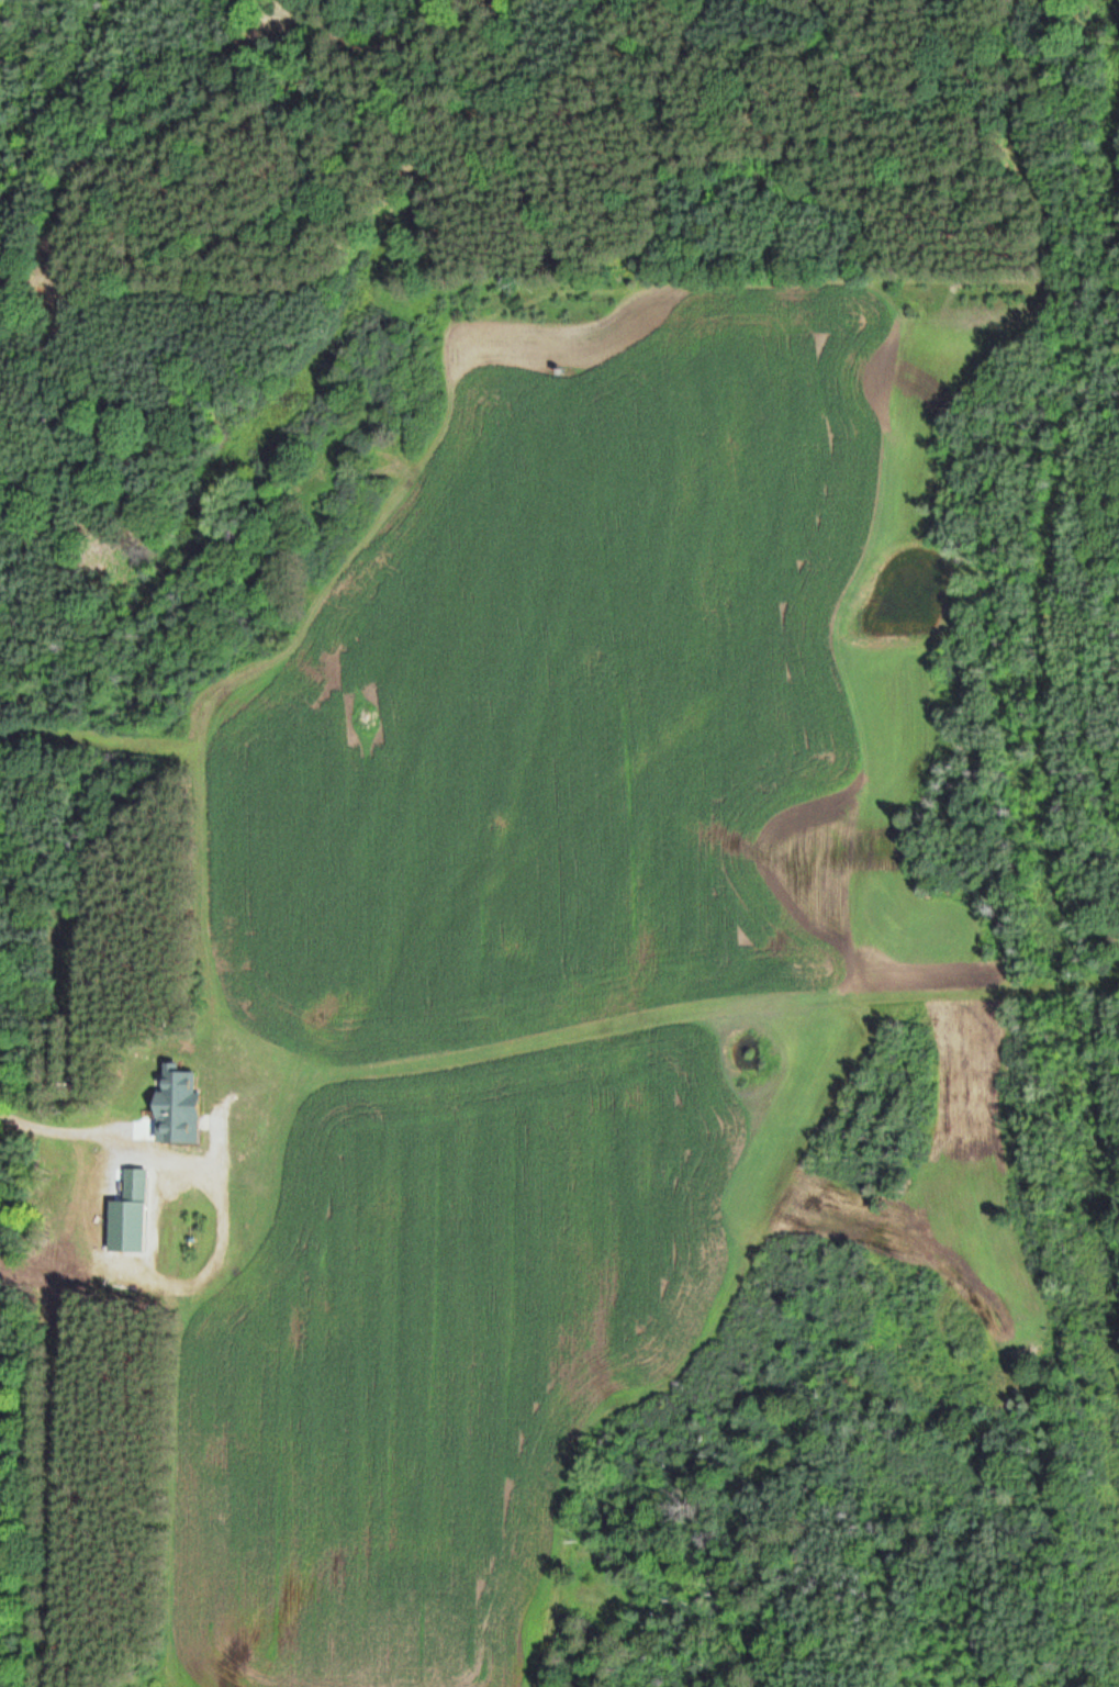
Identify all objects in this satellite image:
building: (183, 1108)
road: (104, 1132)

